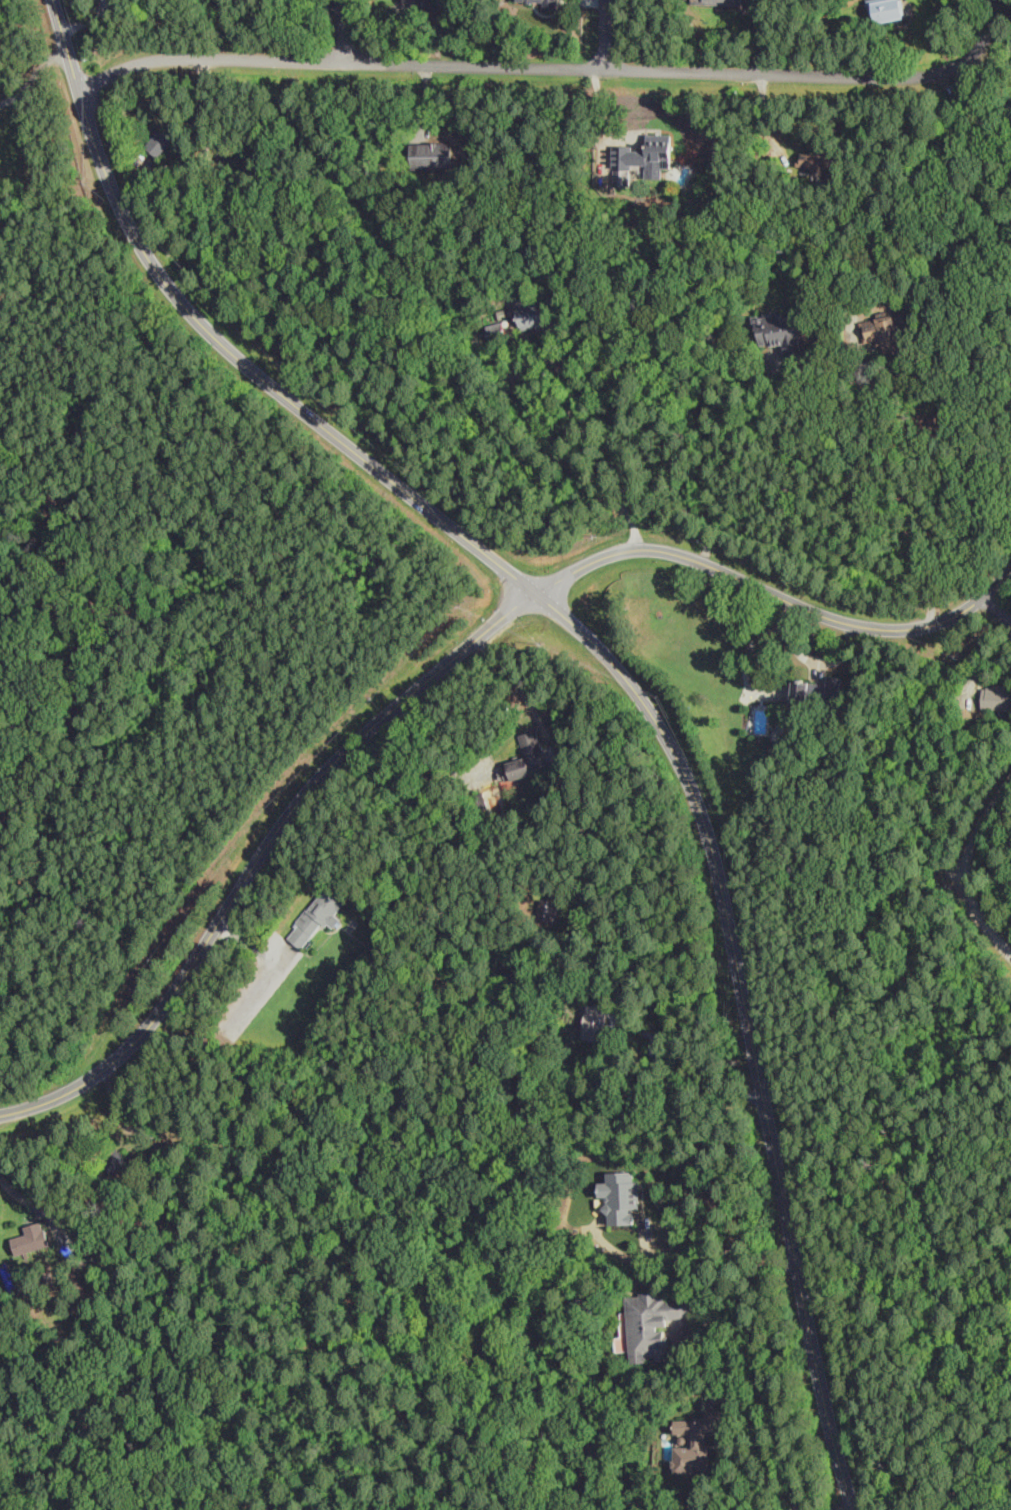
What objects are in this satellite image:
building: (545, 3)
building: (887, 10)
road: (88, 20)
road: (342, 31)
road: (610, 34)
road: (556, 67)
road: (36, 69)
road: (970, 118)
road: (763, 124)
road: (211, 141)
building: (161, 143)
building: (432, 155)
building: (643, 159)
building: (819, 162)
building: (531, 312)
building: (781, 332)
building: (886, 332)
road: (524, 408)
road: (905, 497)
road: (1002, 605)
road: (612, 660)
road: (440, 667)
road: (982, 672)
road: (514, 677)
building: (820, 692)
building: (997, 696)
building: (529, 756)
road: (964, 871)
building: (550, 911)
building: (319, 915)
road: (253, 945)
road: (257, 990)
building: (596, 1020)
road: (687, 1055)
park: (900, 1067)
building: (115, 1161)
road: (20, 1194)
building: (620, 1195)
road: (643, 1200)
road: (638, 1210)
building: (24, 1235)
road: (724, 1252)
road: (625, 1254)
building: (655, 1325)
road: (764, 1384)
building: (696, 1442)
road: (844, 1505)

